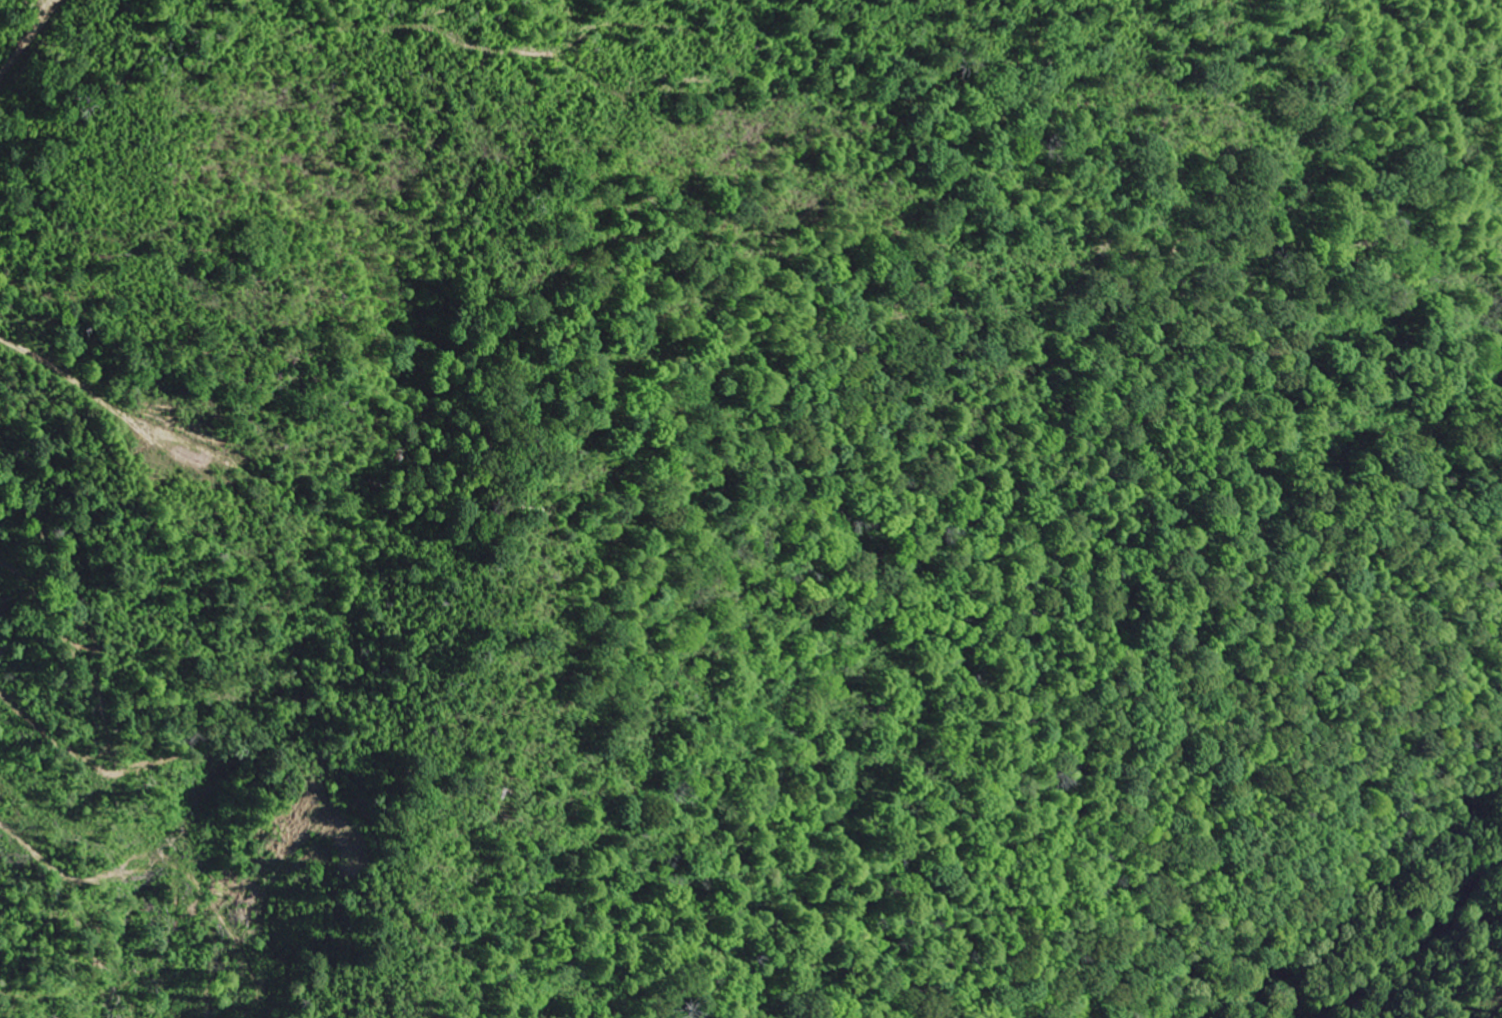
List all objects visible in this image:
road: (1411, 942)

